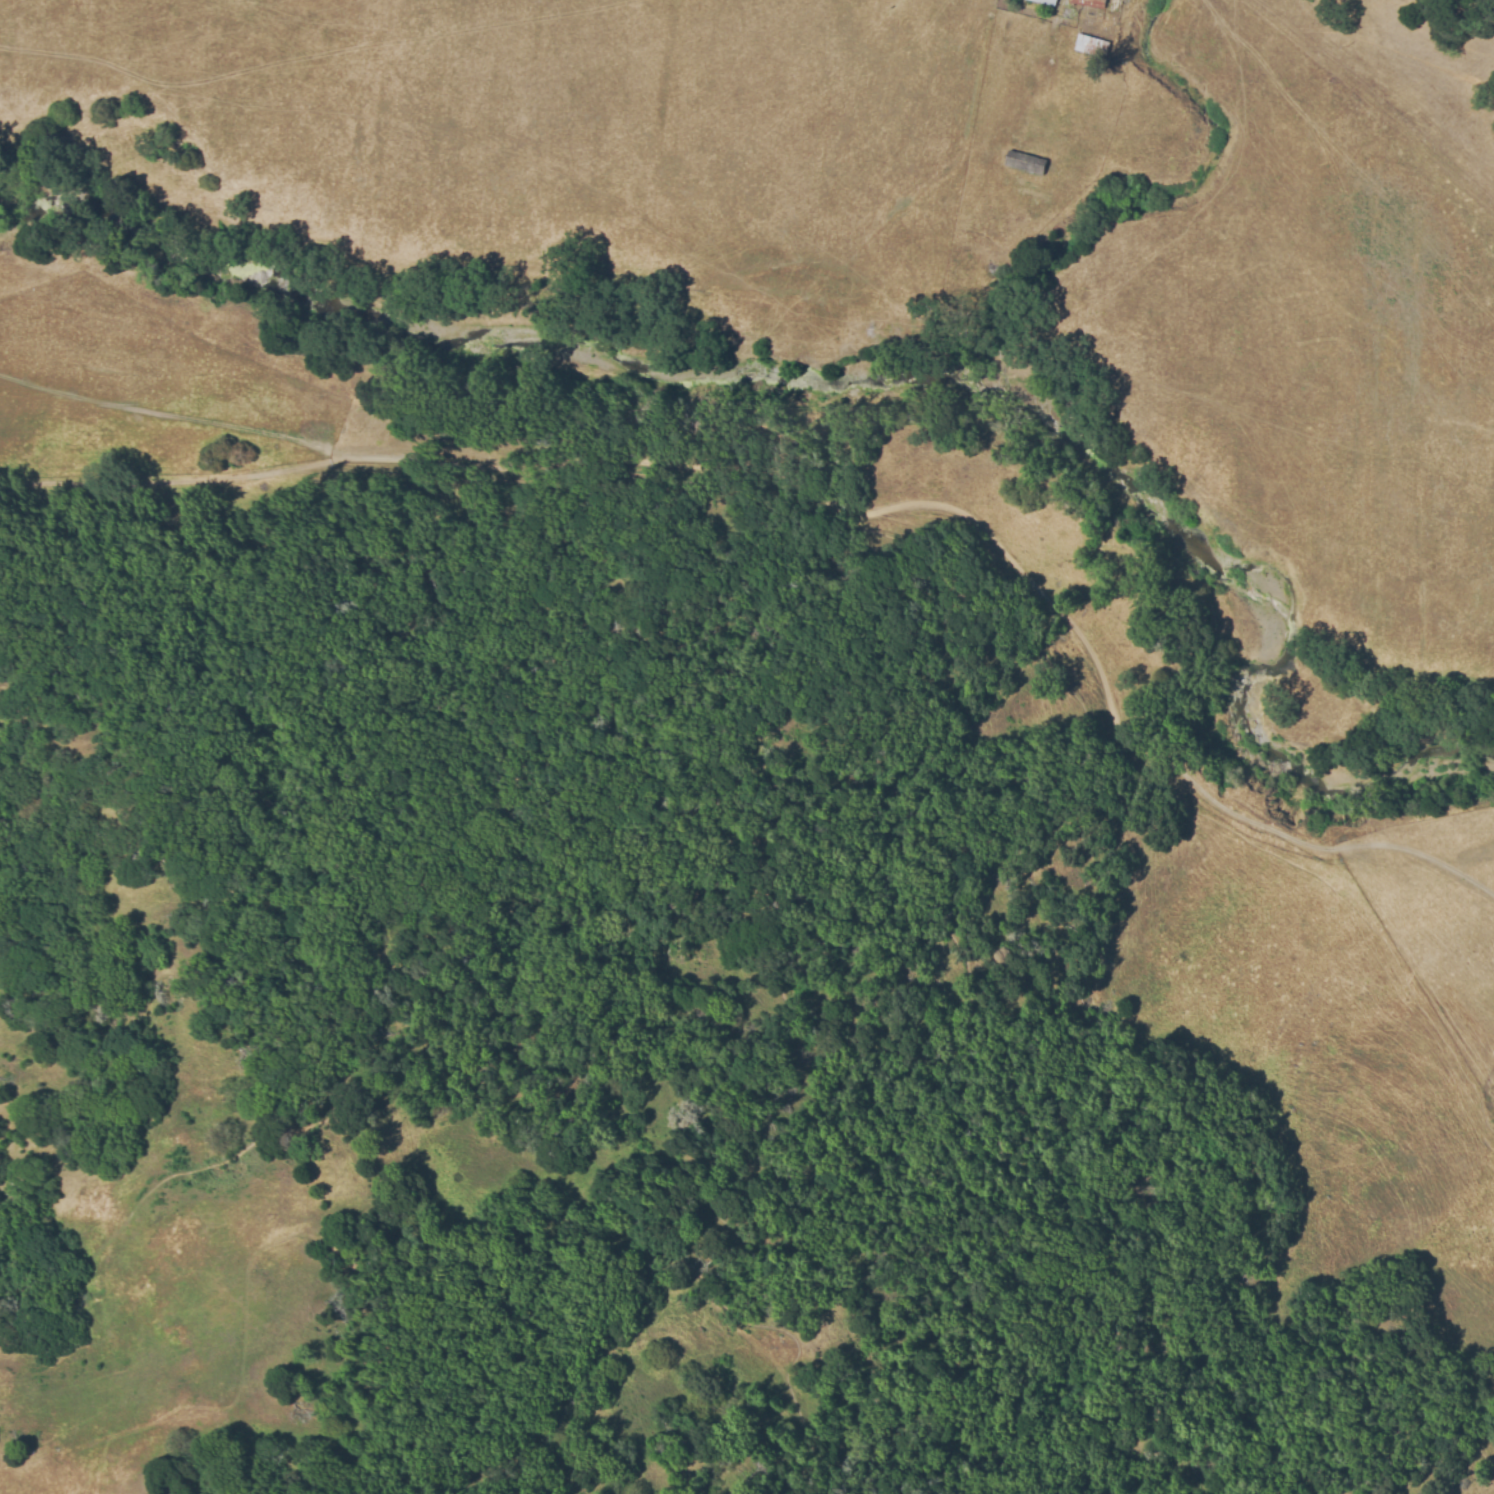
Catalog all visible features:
building: (1044, 2)
building: (1093, 47)
building: (1027, 163)

